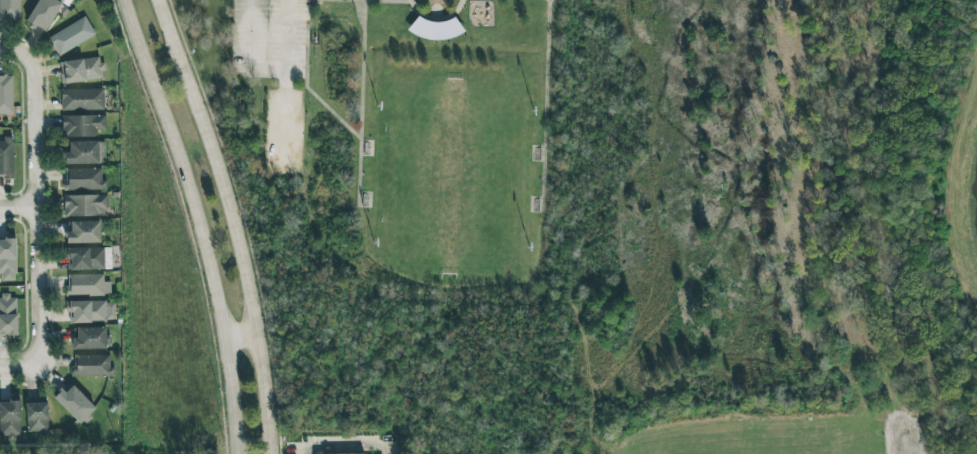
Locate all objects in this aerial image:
road: (386, 0)
building: (9, 10)
building: (43, 13)
road: (434, 19)
building: (71, 35)
road: (285, 36)
road: (7, 50)
road: (246, 54)
building: (81, 70)
road: (304, 81)
building: (6, 94)
building: (81, 99)
road: (360, 103)
road: (543, 105)
building: (82, 125)
building: (85, 153)
building: (6, 157)
park: (448, 178)
building: (84, 179)
building: (85, 205)
road: (34, 207)
road: (17, 209)
park: (605, 214)
road: (204, 221)
road: (235, 222)
building: (83, 232)
building: (85, 258)
building: (7, 259)
building: (87, 285)
building: (90, 311)
building: (8, 315)
road: (243, 330)
building: (89, 338)
building: (91, 366)
road: (17, 370)
building: (74, 404)
building: (36, 417)
building: (10, 418)
road: (344, 445)

